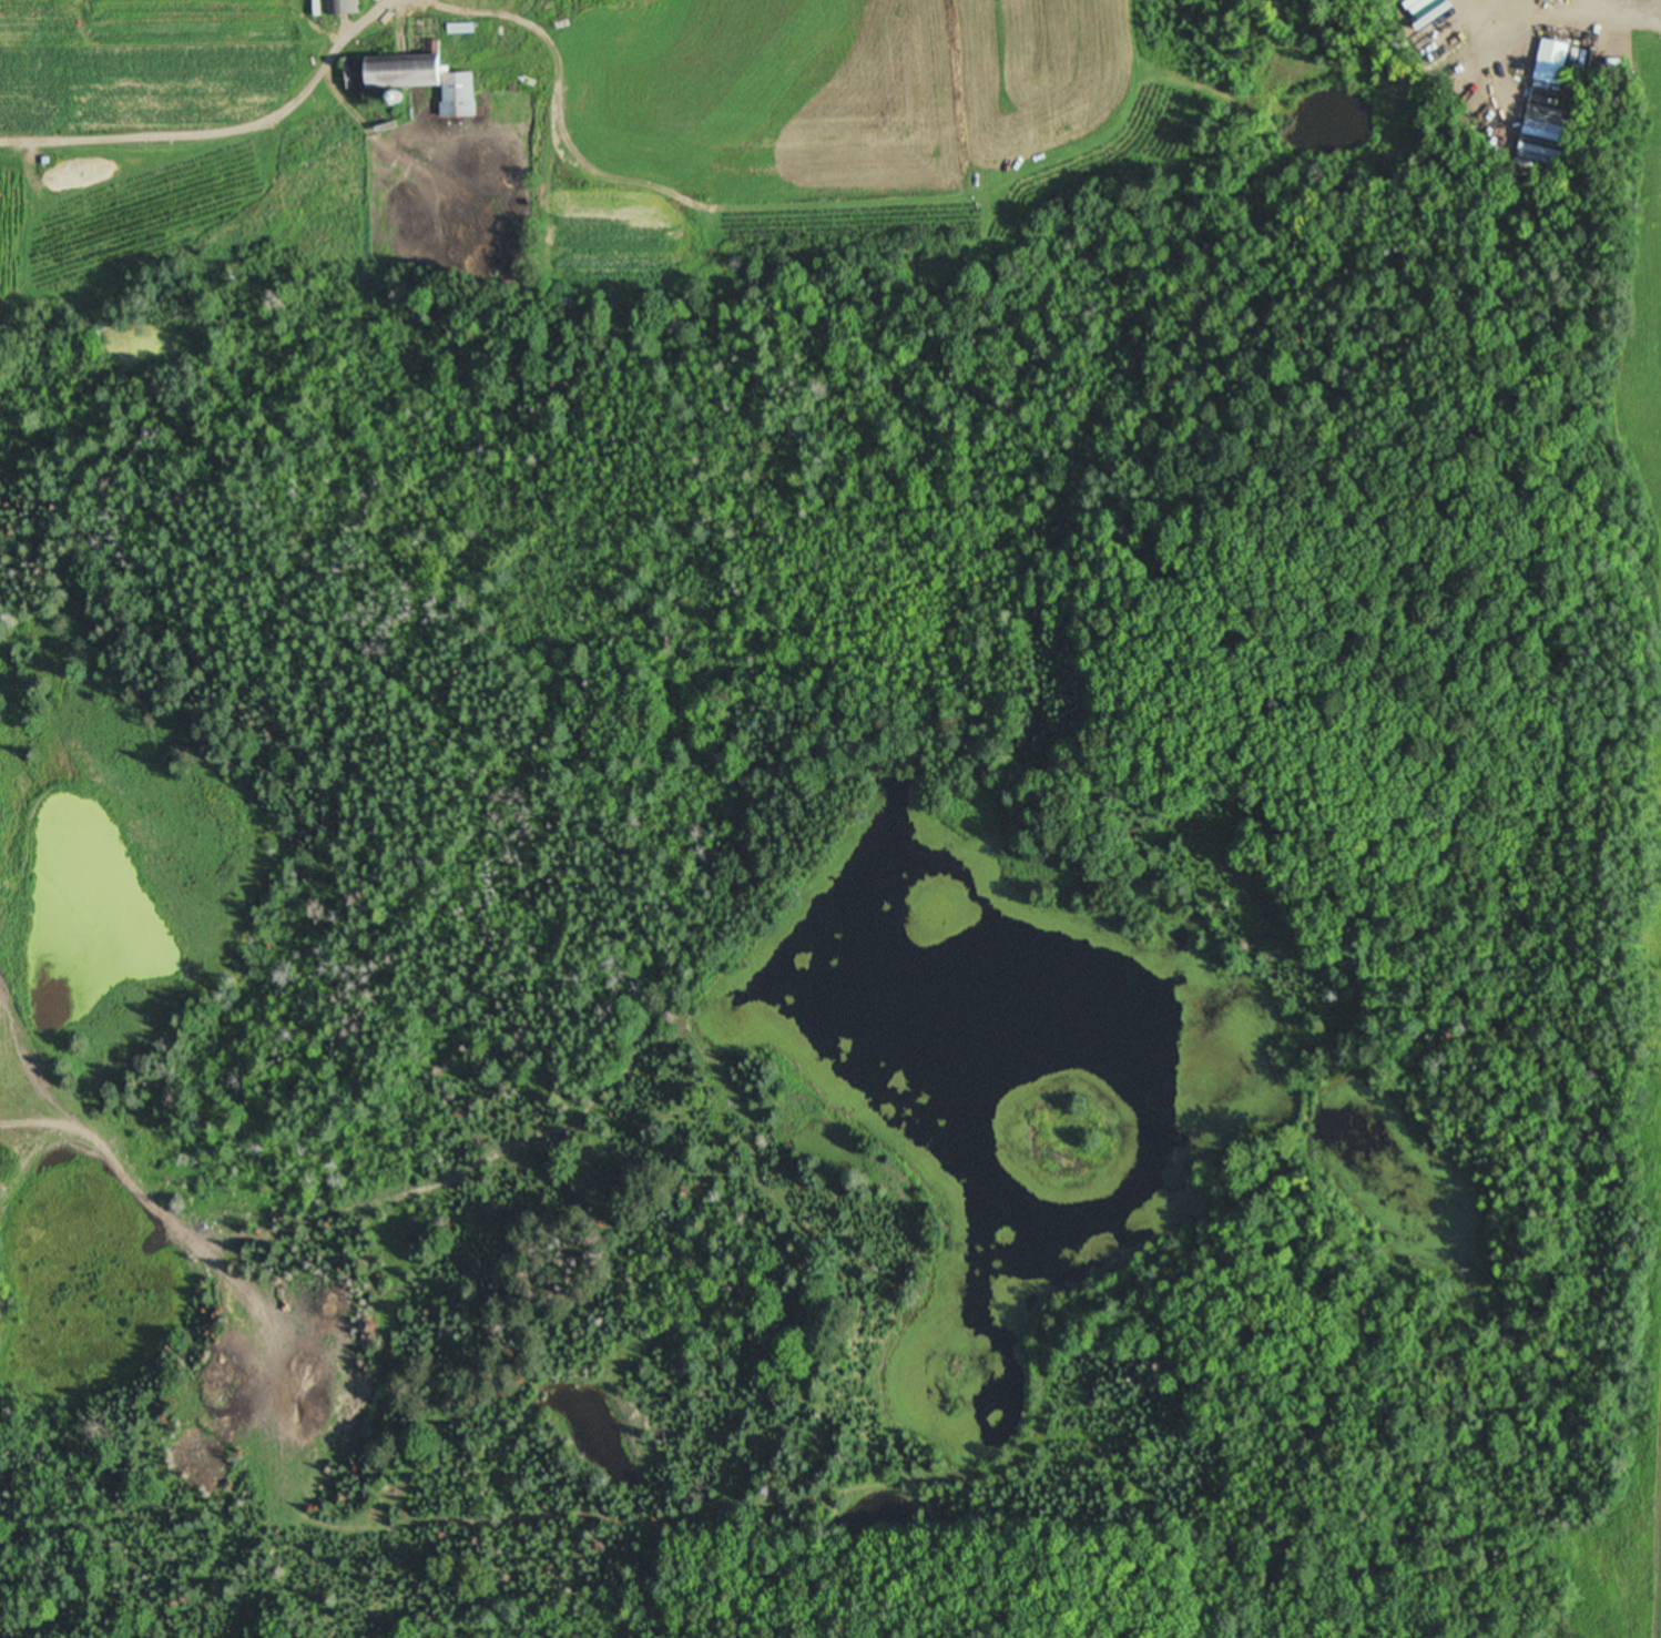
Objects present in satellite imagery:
building: (340, 7)
building: (1418, 12)
building: (1551, 62)
building: (420, 72)

